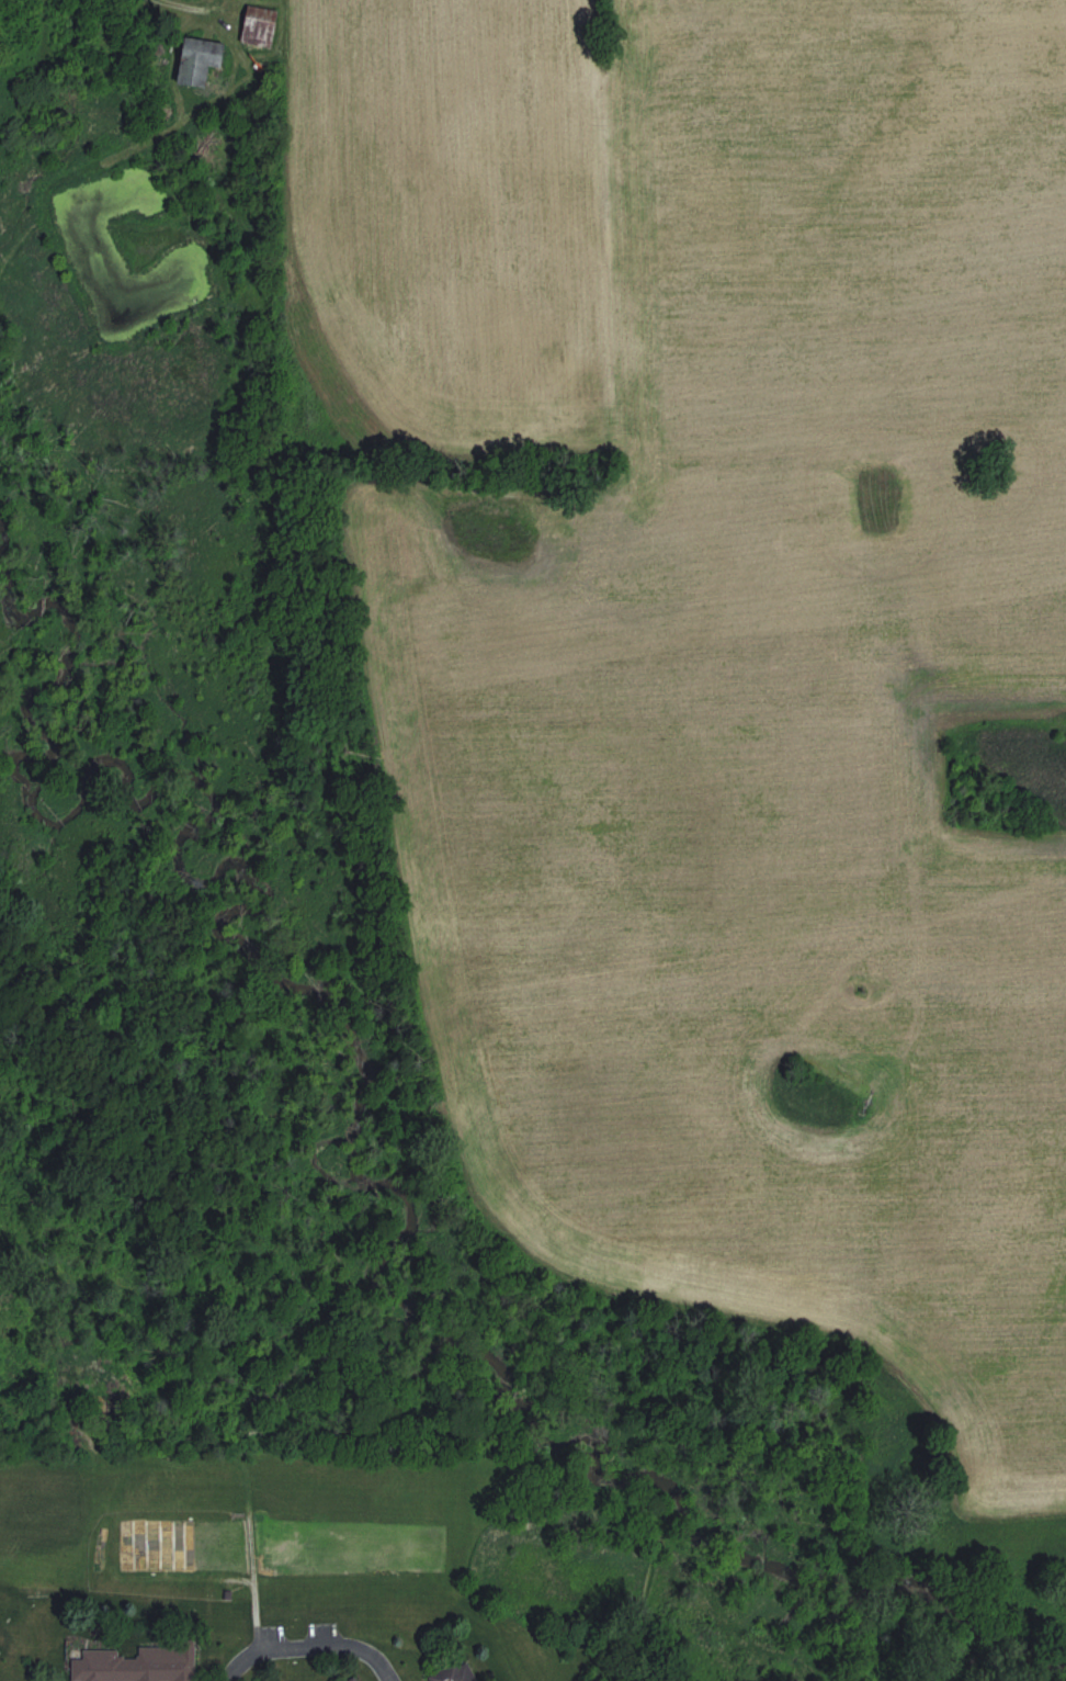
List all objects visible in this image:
road: (184, 8)
building: (261, 25)
building: (201, 59)
road: (310, 1644)
building: (0, 1650)
building: (145, 1663)
building: (456, 1672)
building: (356, 1679)

